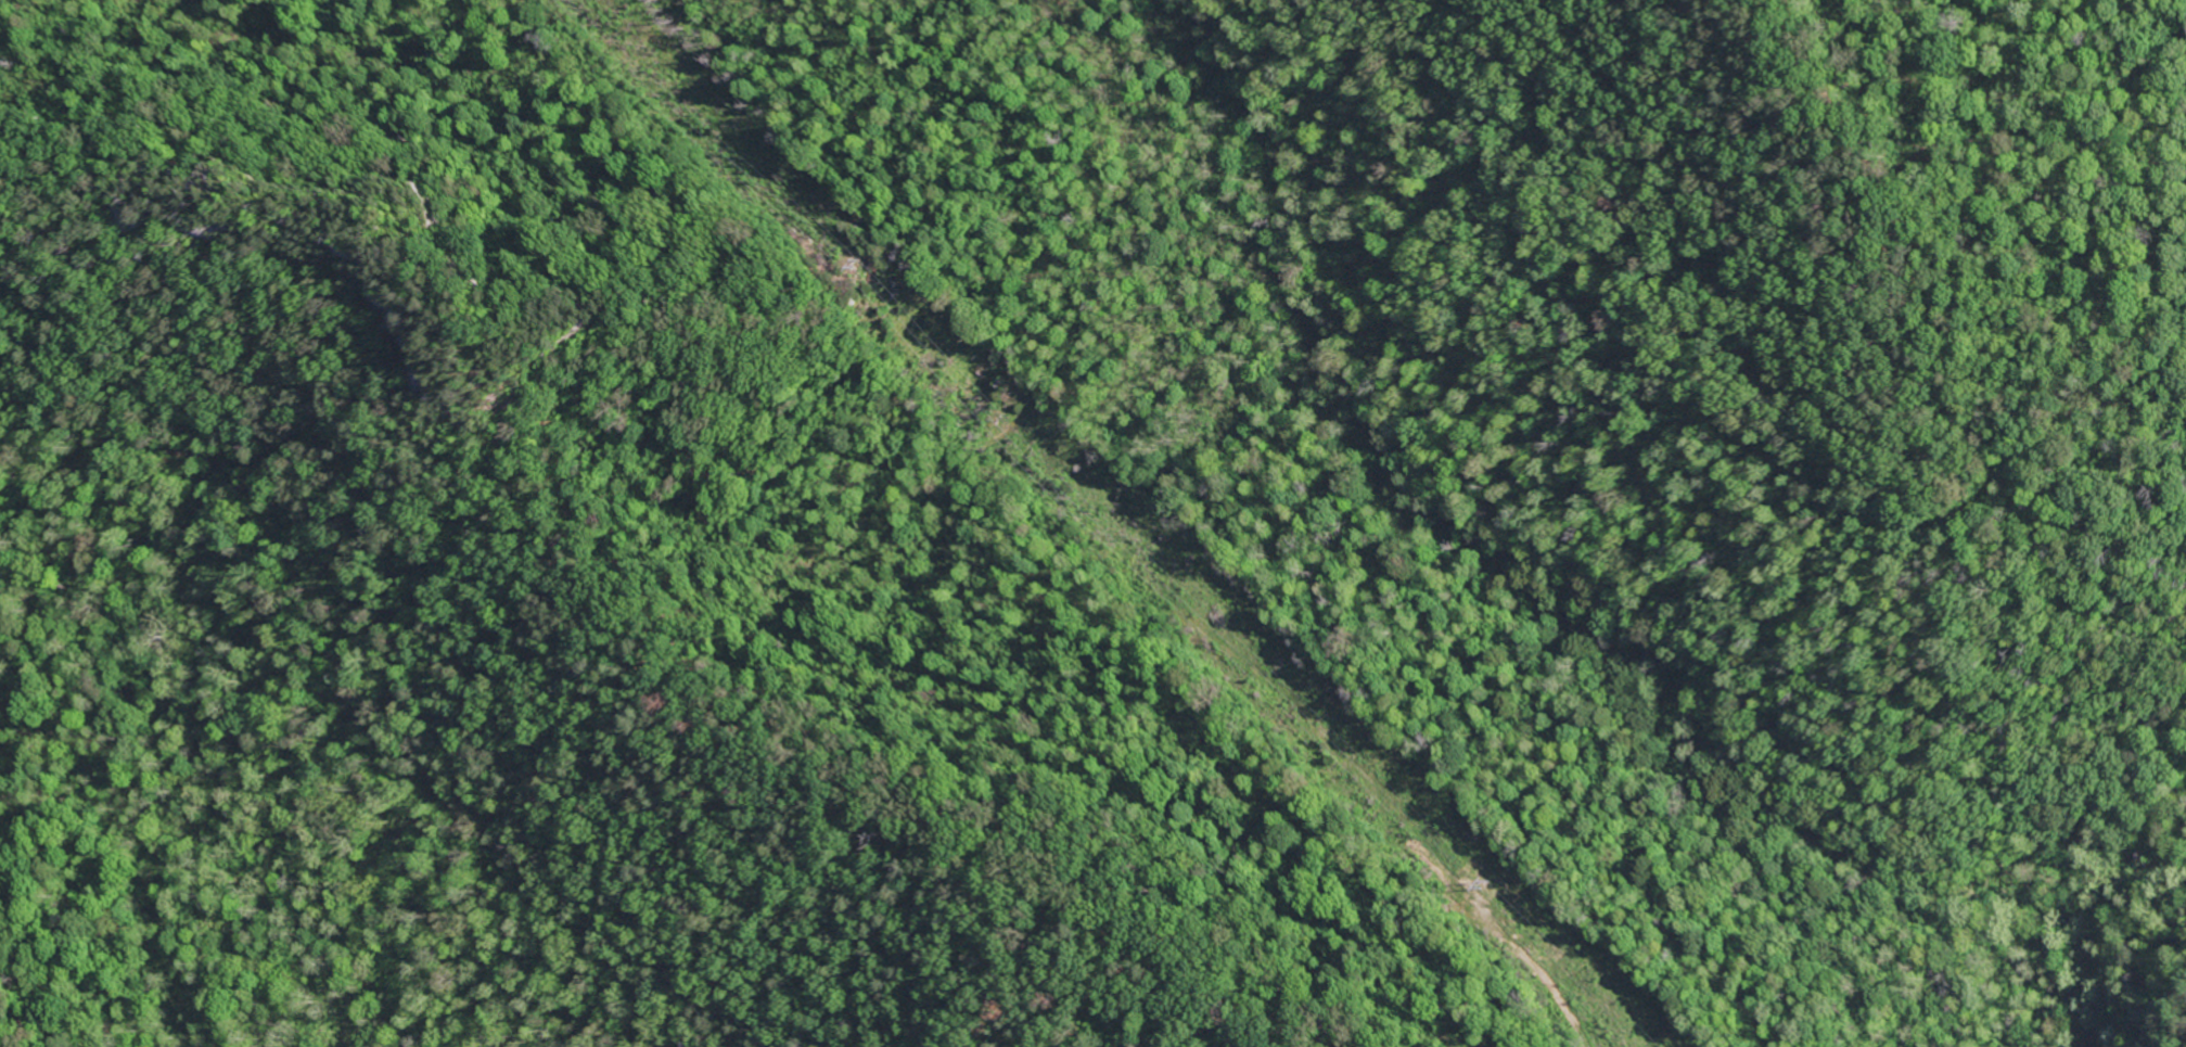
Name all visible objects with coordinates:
power tower: (843, 265)
road: (2069, 893)

